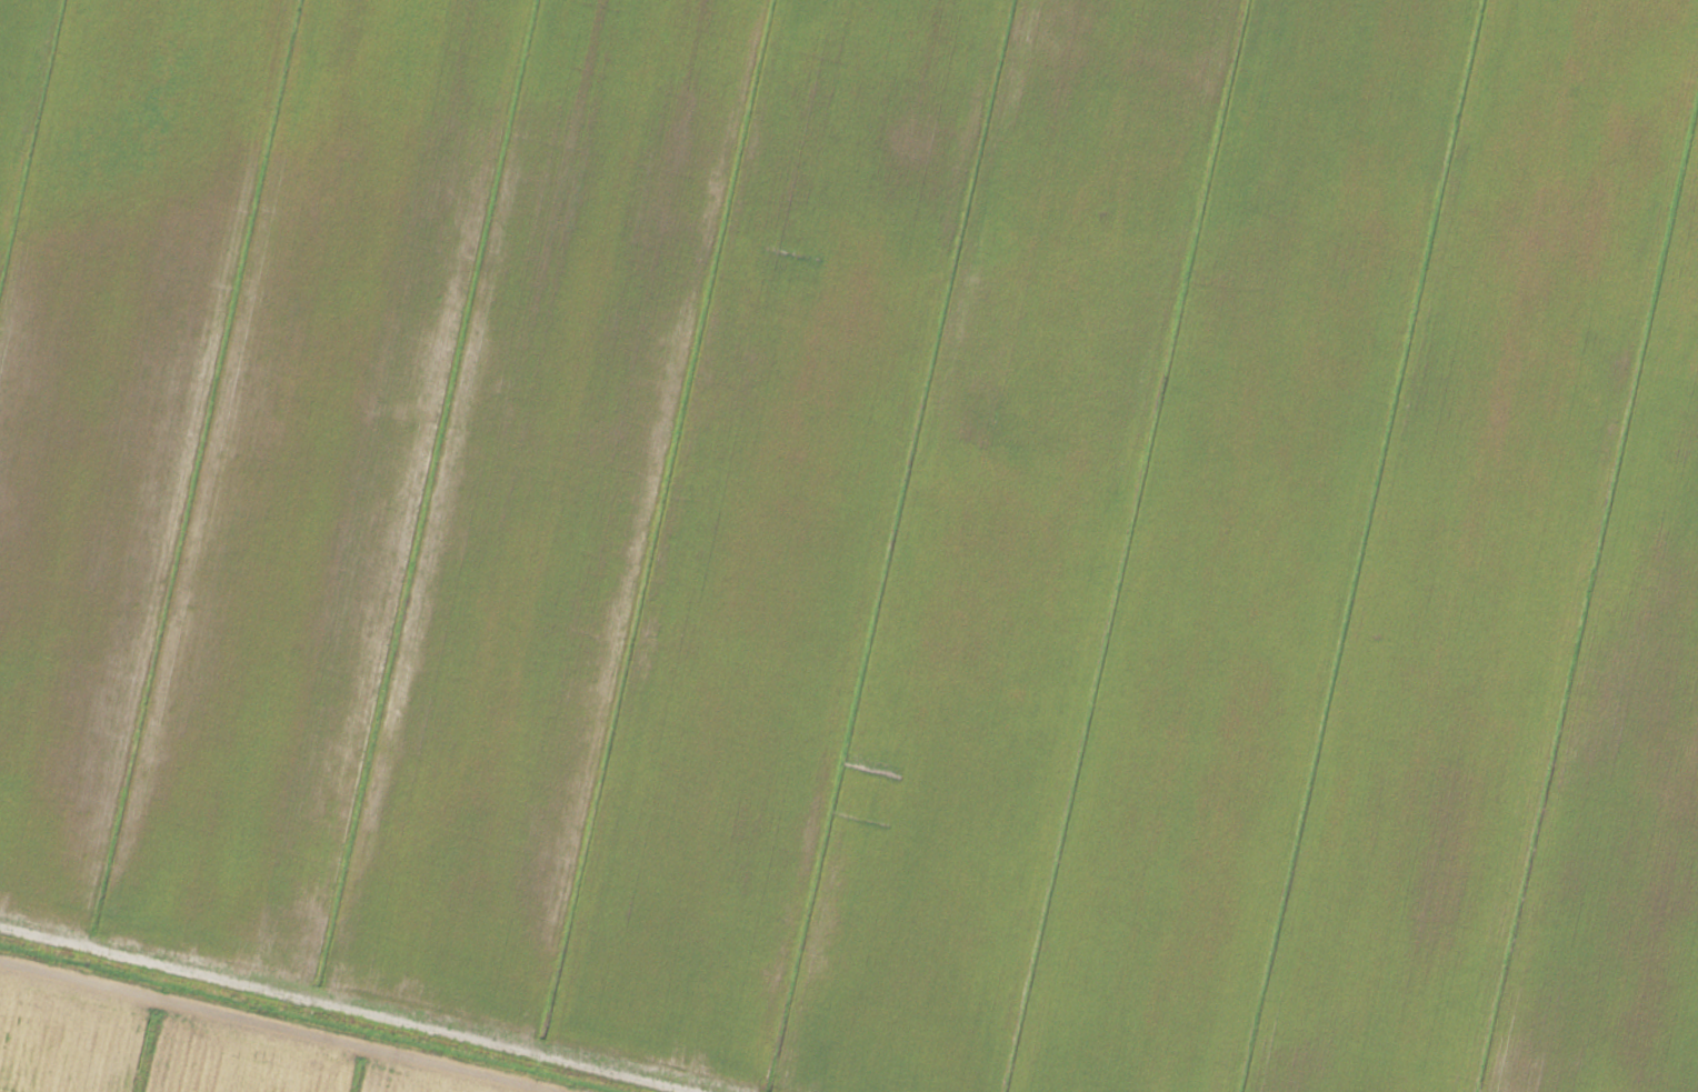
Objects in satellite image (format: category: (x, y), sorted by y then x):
road: (354, 1008)

